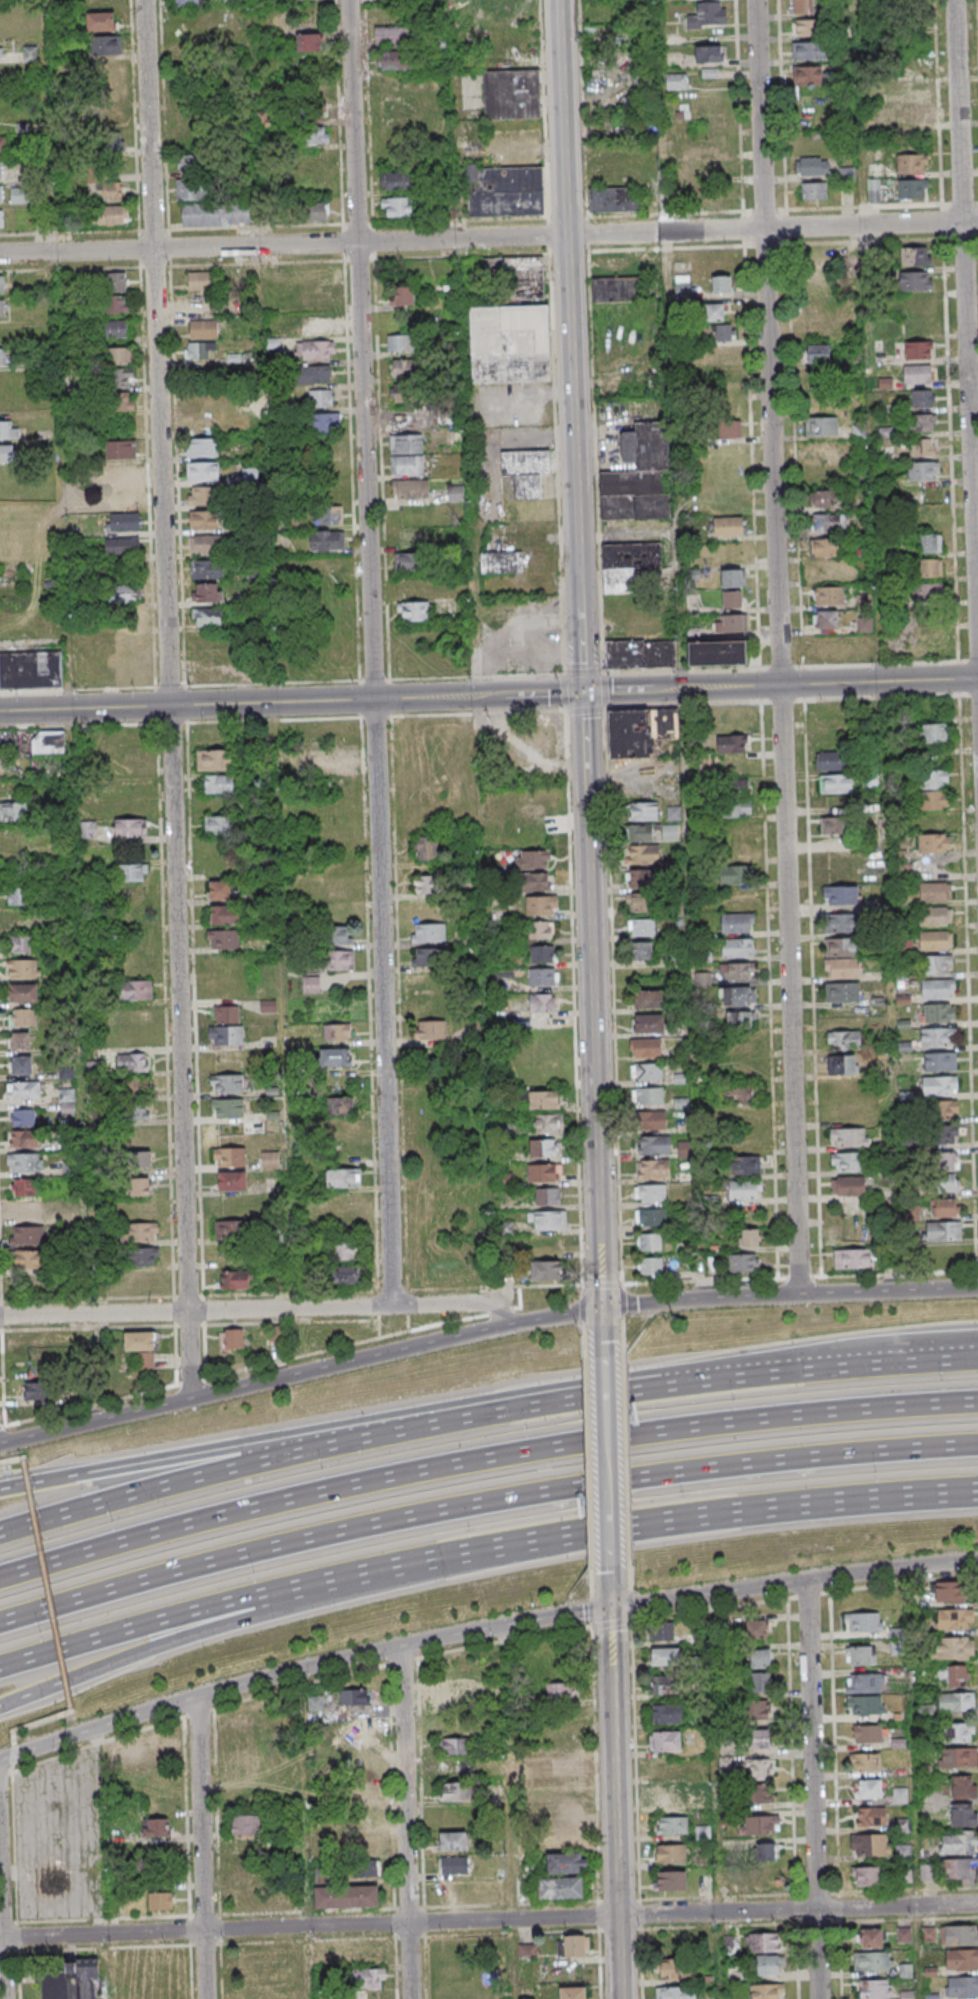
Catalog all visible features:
building: (187, 3)
building: (802, 6)
building: (708, 15)
building: (100, 21)
building: (806, 27)
building: (390, 35)
building: (276, 39)
building: (308, 42)
building: (106, 44)
building: (806, 50)
building: (1, 52)
building: (29, 53)
building: (709, 53)
building: (516, 54)
building: (393, 60)
building: (807, 75)
building: (676, 81)
building: (511, 94)
building: (392, 111)
building: (911, 116)
building: (262, 119)
building: (108, 129)
building: (316, 135)
building: (2, 145)
road: (49, 160)
building: (188, 163)
building: (912, 163)
building: (811, 166)
building: (1, 169)
building: (395, 181)
building: (912, 188)
building: (190, 189)
building: (814, 190)
building: (874, 190)
building: (109, 191)
building: (505, 191)
building: (1, 194)
building: (20, 195)
building: (613, 200)
building: (396, 207)
building: (313, 212)
building: (215, 214)
building: (111, 215)
building: (1, 219)
road: (489, 238)
building: (914, 255)
building: (630, 261)
building: (811, 273)
building: (521, 276)
building: (916, 280)
building: (201, 281)
building: (116, 282)
building: (2, 284)
building: (720, 284)
building: (682, 287)
building: (617, 290)
building: (402, 296)
building: (316, 297)
building: (115, 304)
building: (917, 304)
building: (2, 308)
building: (714, 312)
building: (113, 329)
building: (203, 329)
building: (722, 332)
road: (965, 339)
building: (400, 343)
building: (509, 344)
building: (199, 349)
building: (314, 349)
building: (918, 350)
road: (262, 351)
building: (816, 355)
building: (2, 356)
building: (116, 356)
building: (404, 368)
building: (317, 373)
building: (917, 374)
building: (120, 378)
building: (402, 392)
building: (320, 398)
building: (923, 398)
building: (123, 404)
building: (324, 422)
building: (923, 422)
building: (821, 426)
building: (723, 427)
building: (8, 430)
building: (406, 443)
building: (924, 446)
building: (202, 447)
building: (121, 449)
building: (6, 454)
building: (406, 464)
building: (203, 471)
building: (526, 471)
building: (923, 471)
building: (119, 473)
building: (250, 474)
building: (639, 476)
road: (675, 479)
building: (410, 489)
building: (455, 493)
building: (203, 496)
building: (822, 499)
building: (327, 516)
building: (204, 519)
building: (122, 522)
building: (829, 523)
building: (728, 526)
building: (326, 540)
building: (204, 543)
building: (929, 544)
building: (125, 546)
building: (824, 547)
building: (889, 550)
building: (859, 553)
building: (407, 561)
building: (501, 562)
building: (631, 567)
building: (205, 568)
building: (929, 568)
building: (731, 589)
building: (206, 592)
building: (125, 593)
building: (927, 594)
building: (827, 596)
building: (414, 611)
building: (206, 616)
building: (825, 620)
building: (730, 622)
building: (864, 625)
road: (879, 645)
road: (778, 646)
building: (717, 652)
road: (370, 653)
road: (581, 654)
building: (640, 654)
building: (31, 671)
road: (489, 677)
road: (808, 684)
road: (580, 692)
traffic signals: (582, 692)
road: (972, 695)
road: (881, 698)
road: (168, 699)
road: (260, 702)
road: (783, 703)
road: (688, 705)
road: (585, 709)
road: (478, 714)
building: (640, 730)
building: (934, 733)
building: (48, 742)
building: (730, 743)
building: (335, 759)
building: (216, 760)
building: (831, 760)
road: (480, 771)
building: (218, 783)
building: (835, 783)
building: (934, 789)
building: (740, 807)
building: (642, 811)
building: (13, 812)
building: (536, 816)
building: (217, 825)
building: (834, 825)
building: (88, 829)
building: (129, 829)
building: (639, 832)
building: (934, 843)
building: (427, 848)
building: (642, 854)
building: (533, 859)
building: (904, 870)
building: (131, 873)
building: (736, 875)
building: (642, 878)
building: (536, 882)
building: (426, 884)
building: (219, 890)
building: (934, 891)
building: (841, 895)
building: (18, 896)
building: (640, 904)
building: (540, 906)
building: (224, 914)
building: (935, 916)
building: (736, 922)
building: (840, 922)
building: (641, 928)
building: (540, 931)
building: (428, 932)
building: (340, 934)
building: (223, 938)
building: (935, 939)
building: (21, 944)
building: (840, 947)
building: (737, 948)
building: (641, 951)
building: (541, 954)
building: (429, 956)
building: (338, 959)
building: (936, 964)
building: (841, 968)
building: (22, 969)
building: (739, 970)
building: (541, 977)
building: (702, 979)
building: (311, 984)
building: (937, 988)
building: (134, 990)
building: (23, 992)
building: (842, 992)
building: (737, 996)
road: (612, 997)
road: (574, 998)
building: (648, 1000)
building: (541, 1003)
road: (78, 1012)
building: (938, 1012)
building: (226, 1014)
building: (23, 1017)
building: (739, 1020)
building: (648, 1024)
building: (429, 1029)
building: (337, 1032)
building: (226, 1035)
building: (937, 1036)
building: (21, 1040)
building: (843, 1040)
building: (644, 1047)
building: (546, 1050)
building: (335, 1057)
building: (940, 1061)
building: (132, 1062)
building: (21, 1064)
building: (841, 1064)
building: (647, 1071)
building: (227, 1083)
building: (135, 1085)
building: (939, 1085)
building: (23, 1090)
building: (739, 1093)
building: (647, 1095)
building: (542, 1100)
building: (340, 1105)
building: (227, 1108)
building: (946, 1108)
building: (136, 1111)
building: (23, 1117)
building: (651, 1120)
building: (548, 1123)
building: (943, 1134)
building: (848, 1137)
building: (24, 1138)
building: (654, 1145)
building: (543, 1148)
building: (229, 1157)
building: (140, 1160)
building: (270, 1160)
building: (848, 1161)
building: (25, 1162)
building: (745, 1165)
building: (652, 1169)
building: (542, 1172)
building: (946, 1172)
building: (343, 1177)
building: (231, 1180)
building: (848, 1186)
building: (21, 1187)
building: (139, 1187)
building: (744, 1189)
building: (650, 1193)
building: (547, 1196)
building: (943, 1209)
building: (27, 1211)
building: (651, 1217)
building: (549, 1219)
building: (231, 1229)
building: (943, 1231)
building: (139, 1232)
building: (851, 1233)
building: (27, 1235)
building: (749, 1237)
building: (649, 1242)
building: (346, 1251)
building: (143, 1256)
building: (852, 1258)
building: (27, 1259)
building: (743, 1262)
building: (650, 1267)
building: (547, 1271)
building: (344, 1276)
building: (234, 1279)
building: (278, 1283)
road: (601, 1286)
road: (740, 1297)
road: (620, 1301)
road: (583, 1304)
road: (457, 1305)
traffic signals: (604, 1309)
road: (196, 1311)
road: (604, 1333)
road: (621, 1334)
building: (233, 1338)
road: (583, 1340)
building: (35, 1344)
building: (141, 1348)
road: (731, 1376)
road: (252, 1384)
building: (36, 1390)
road: (443, 1418)
road: (200, 1455)
road: (483, 1456)
road: (624, 1457)
road: (11, 1461)
road: (608, 1462)
road: (587, 1463)
road: (200, 1477)
road: (483, 1500)
road: (669, 1519)
road: (628, 1576)
road: (308, 1582)
road: (591, 1583)
road: (903, 1584)
road: (47, 1586)
building: (950, 1593)
road: (811, 1595)
road: (310, 1597)
road: (629, 1605)
traffic signals: (612, 1608)
road: (709, 1610)
road: (592, 1612)
building: (955, 1619)
building: (863, 1622)
road: (610, 1624)
road: (125, 1627)
road: (489, 1629)
building: (755, 1629)
building: (662, 1631)
building: (955, 1648)
road: (124, 1654)
building: (860, 1655)
building: (664, 1656)
building: (760, 1658)
building: (953, 1674)
building: (759, 1682)
building: (865, 1682)
building: (663, 1685)
building: (559, 1693)
building: (353, 1698)
building: (453, 1698)
building: (956, 1701)
building: (314, 1704)
building: (865, 1704)
building: (759, 1710)
road: (199, 1713)
building: (666, 1713)
building: (449, 1722)
road: (42, 1723)
building: (242, 1725)
building: (354, 1725)
building: (958, 1732)
building: (869, 1734)
road: (13, 1739)
building: (760, 1739)
building: (665, 1741)
road: (97, 1745)
building: (456, 1746)
road: (13, 1751)
building: (127, 1755)
building: (958, 1757)
road: (6, 1758)
road: (634, 1761)
building: (864, 1762)
road: (12, 1764)
road: (594, 1765)
building: (563, 1768)
building: (455, 1769)
building: (759, 1769)
road: (6, 1775)
road: (614, 1783)
building: (963, 1786)
road: (814, 1789)
building: (868, 1789)
building: (455, 1791)
building: (671, 1795)
building: (759, 1795)
building: (900, 1795)
building: (365, 1797)
building: (570, 1806)
building: (964, 1814)
building: (870, 1816)
road: (404, 1823)
building: (245, 1824)
building: (670, 1825)
building: (759, 1825)
building: (155, 1827)
building: (565, 1836)
parking lot: (61, 1840)
building: (451, 1840)
building: (959, 1842)
building: (364, 1845)
building: (870, 1845)
road: (200, 1848)
building: (760, 1851)
building: (670, 1852)
building: (566, 1863)
building: (453, 1864)
building: (348, 1870)
building: (959, 1870)
building: (927, 1872)
building: (903, 1876)
building: (865, 1877)
building: (670, 1880)
building: (560, 1888)
road: (835, 1894)
building: (346, 1897)
road: (717, 1898)
building: (160, 1901)
road: (616, 1901)
road: (596, 1914)
road: (638, 1914)
road: (488, 1920)
road: (718, 1925)
road: (618, 1927)
building: (904, 1934)
building: (959, 1935)
building: (872, 1938)
building: (676, 1943)
building: (762, 1943)
building: (570, 1945)
road: (840, 1946)
building: (527, 1951)
road: (1, 1955)
building: (872, 1961)
building: (962, 1962)
road: (598, 1963)
road: (641, 1963)
building: (767, 1966)
building: (676, 1968)
building: (904, 1970)
building: (530, 1971)
building: (370, 1978)
building: (73, 1981)
building: (875, 1988)
building: (962, 1988)
building: (766, 1991)
building: (573, 1992)
building: (675, 1992)
building: (906, 1995)
building: (933, 1996)

